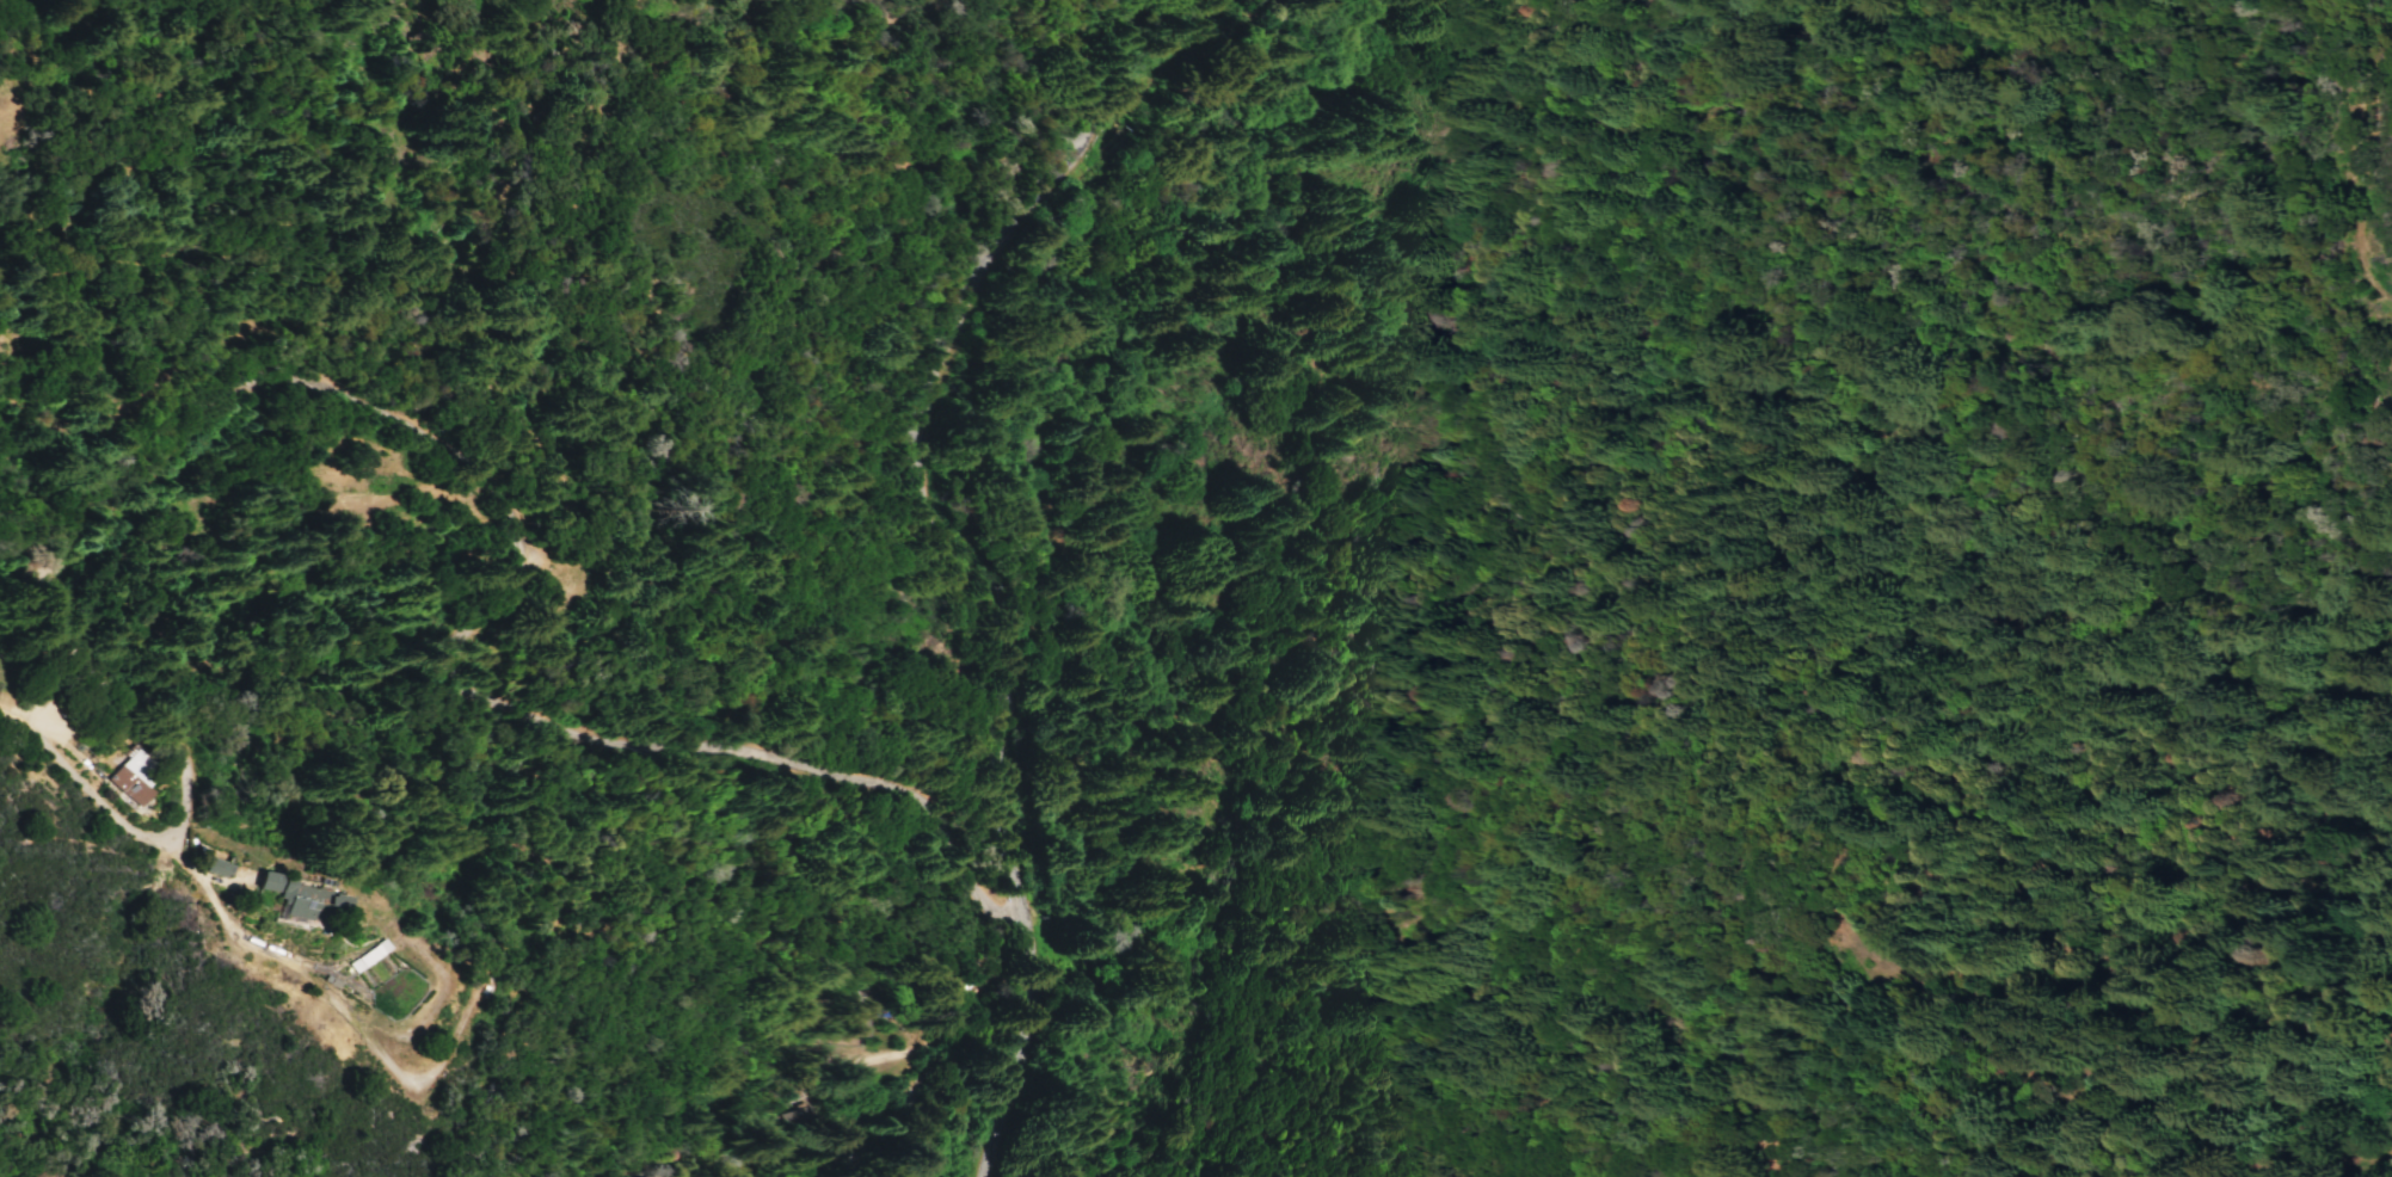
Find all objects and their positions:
crop: (2035, 19)
road: (2374, 42)
road: (2350, 177)
road: (383, 412)
road: (933, 477)
building: (144, 766)
building: (128, 778)
building: (287, 896)
building: (364, 963)
road: (1861, 969)
road: (332, 1005)
road: (933, 1048)
road: (1040, 1068)
building: (811, 1095)
building: (819, 1113)
road: (1023, 1142)

